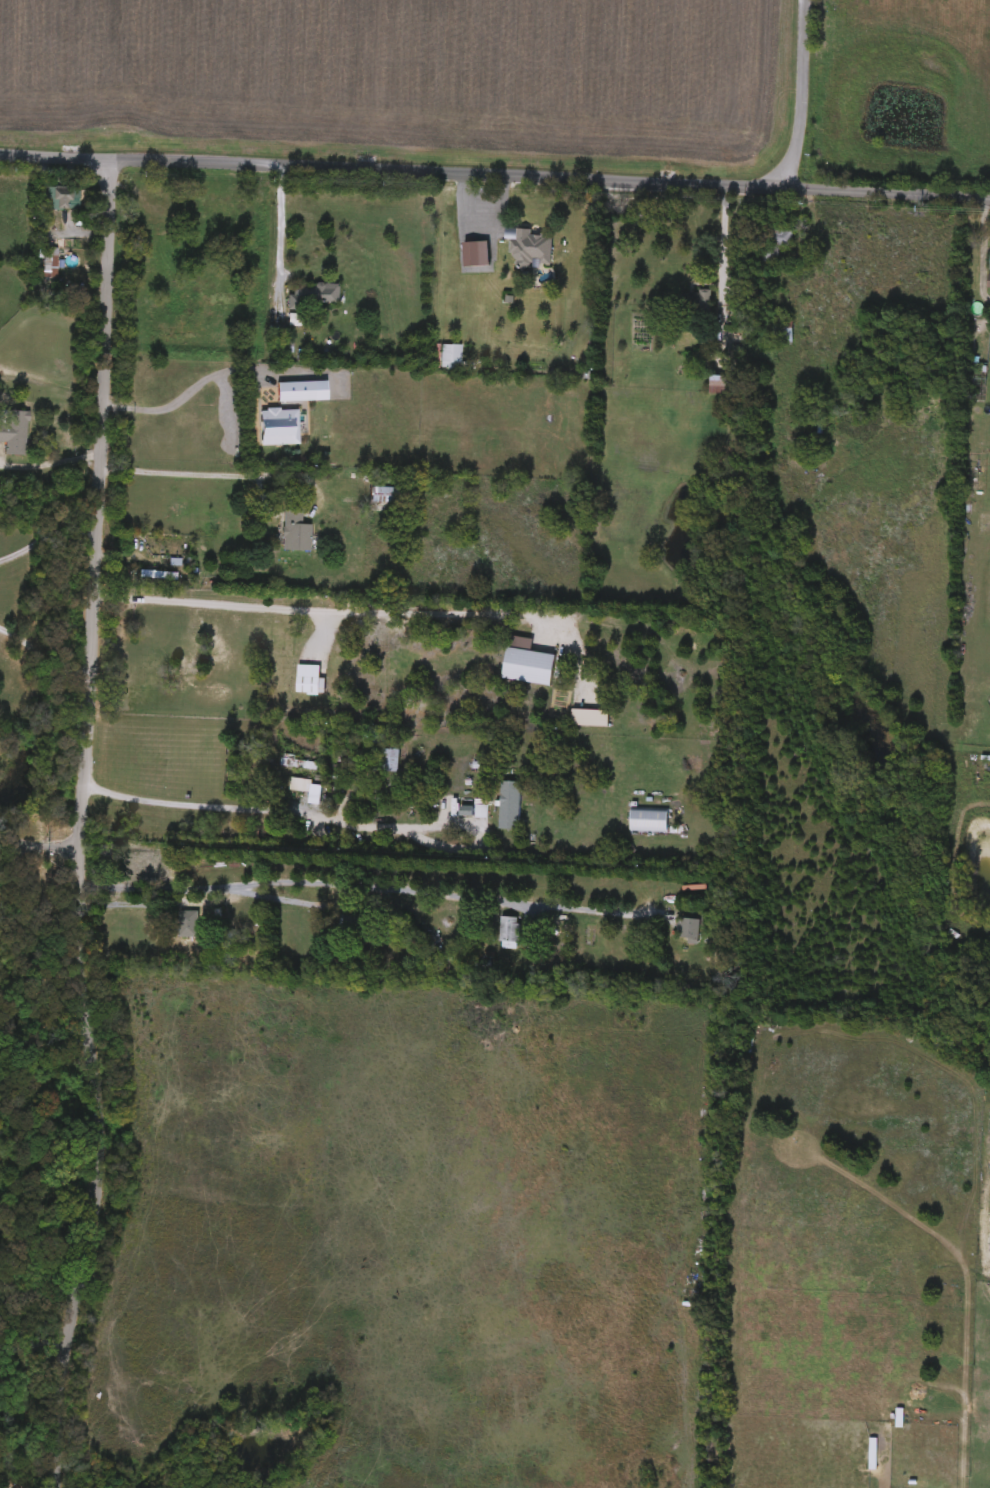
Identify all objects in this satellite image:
road: (797, 96)
road: (495, 172)
building: (64, 199)
road: (280, 234)
road: (721, 234)
building: (775, 245)
building: (531, 249)
building: (48, 261)
building: (312, 296)
building: (695, 305)
building: (780, 335)
building: (450, 357)
road: (213, 377)
building: (725, 386)
building: (14, 433)
road: (49, 464)
road: (224, 475)
building: (386, 497)
building: (296, 533)
road: (48, 534)
building: (158, 577)
road: (368, 612)
road: (41, 659)
building: (530, 669)
building: (311, 683)
building: (375, 737)
building: (390, 762)
building: (300, 766)
building: (301, 787)
building: (510, 808)
road: (283, 810)
building: (650, 823)
road: (80, 824)
road: (19, 847)
road: (50, 848)
building: (149, 863)
road: (369, 887)
building: (188, 926)
building: (355, 926)
building: (688, 931)
building: (509, 933)
building: (421, 959)
road: (39, 1032)
road: (30, 1343)

